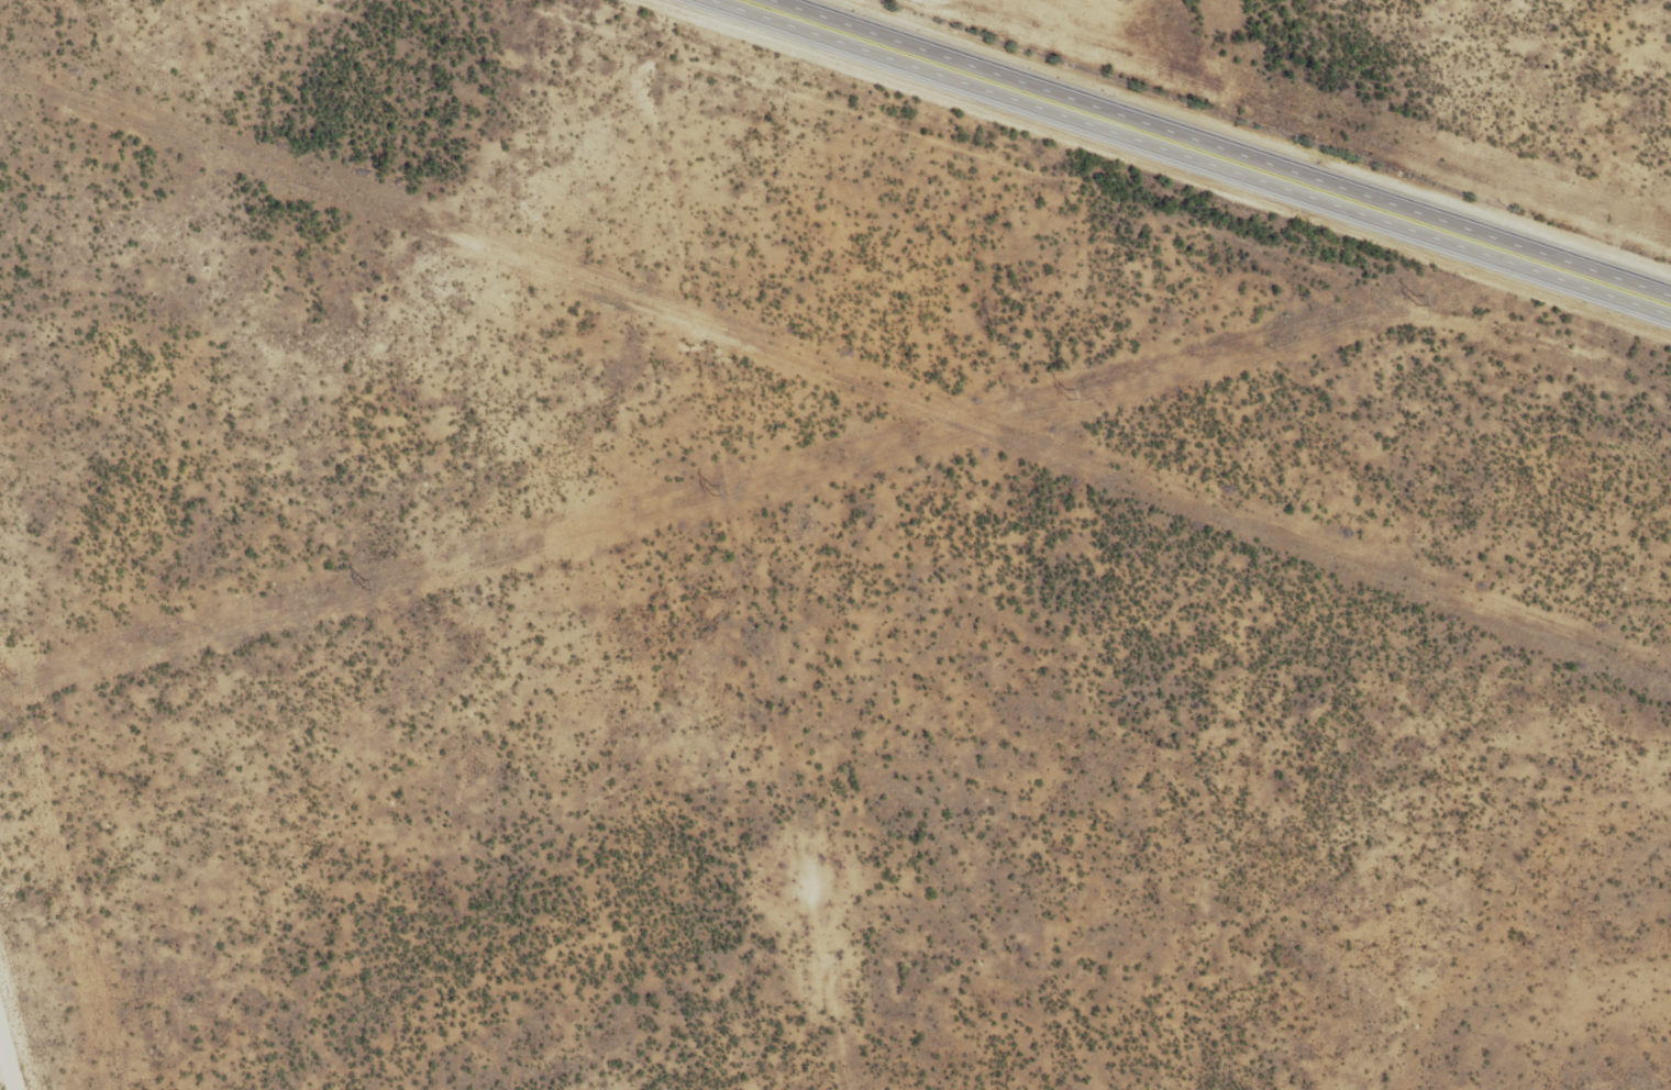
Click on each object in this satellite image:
road: (1216, 144)
power tower: (1414, 300)
power tower: (1065, 393)
power tower: (710, 490)
power tower: (363, 585)
power tower: (11, 679)
road: (35, 955)
road: (33, 1065)

